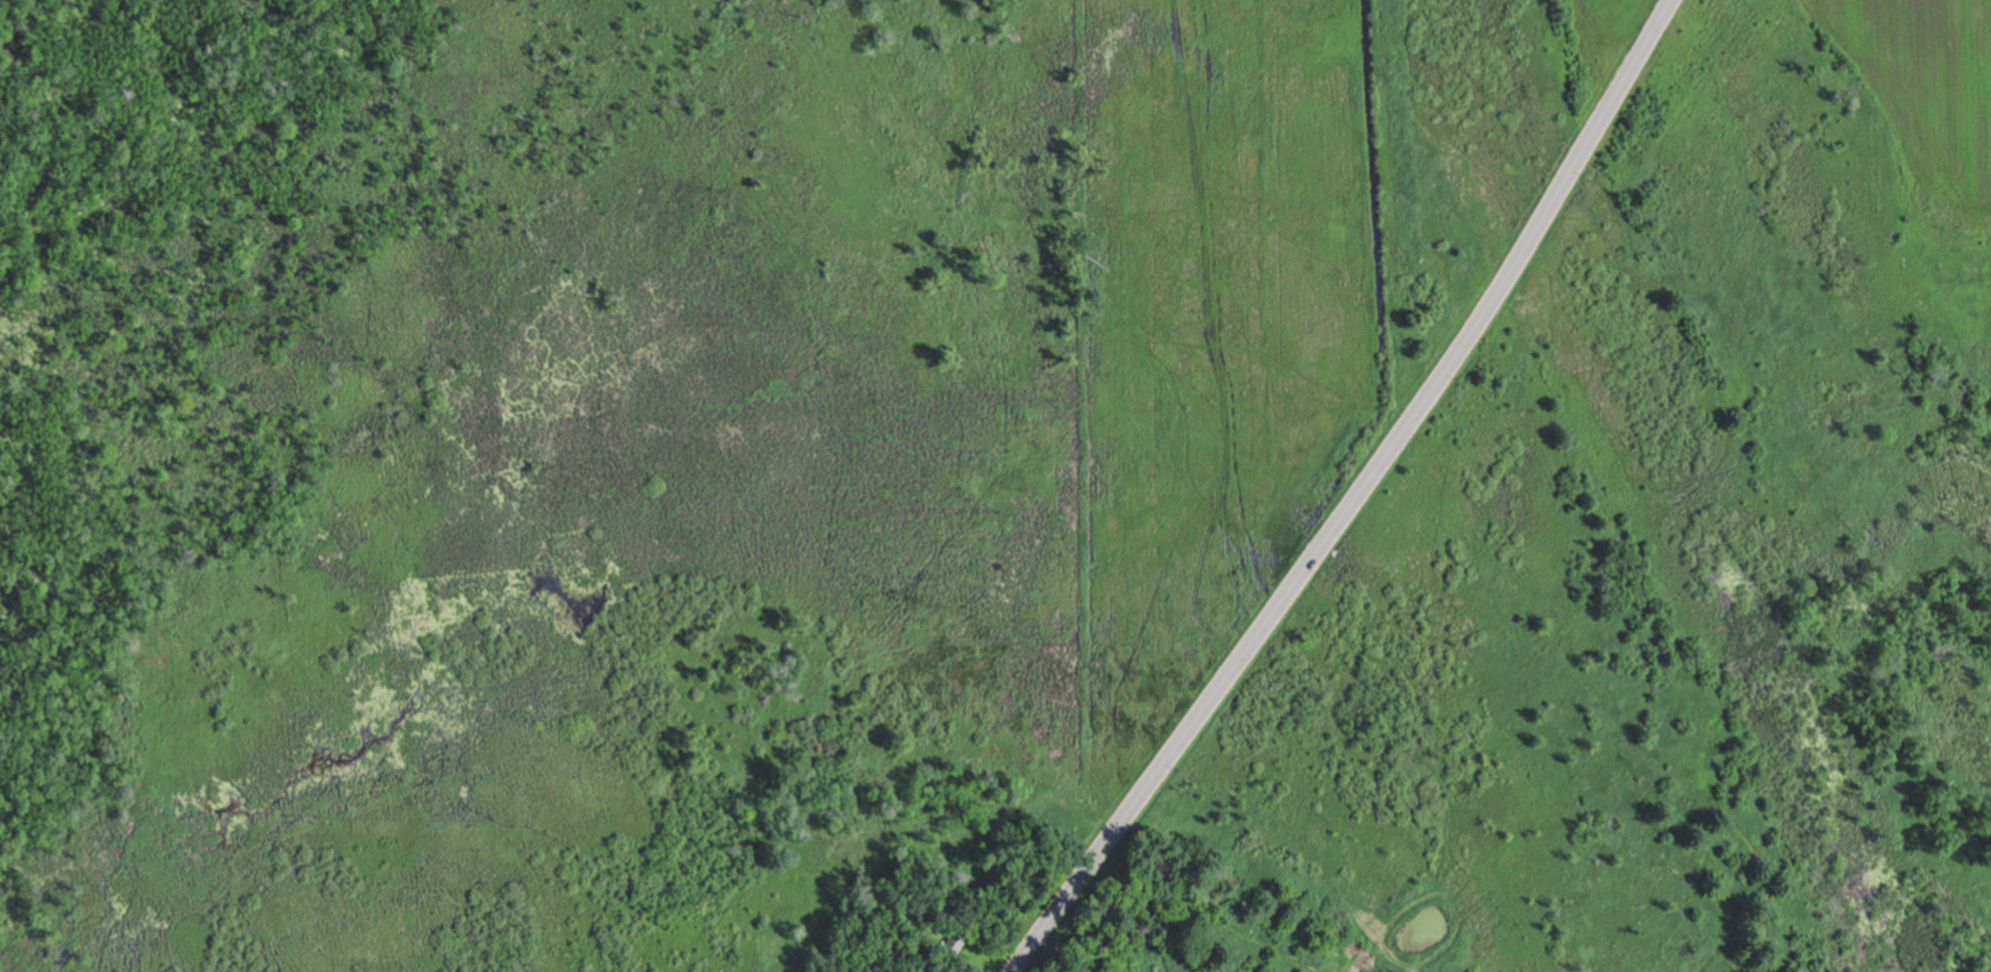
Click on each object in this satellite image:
road: (1359, 496)

